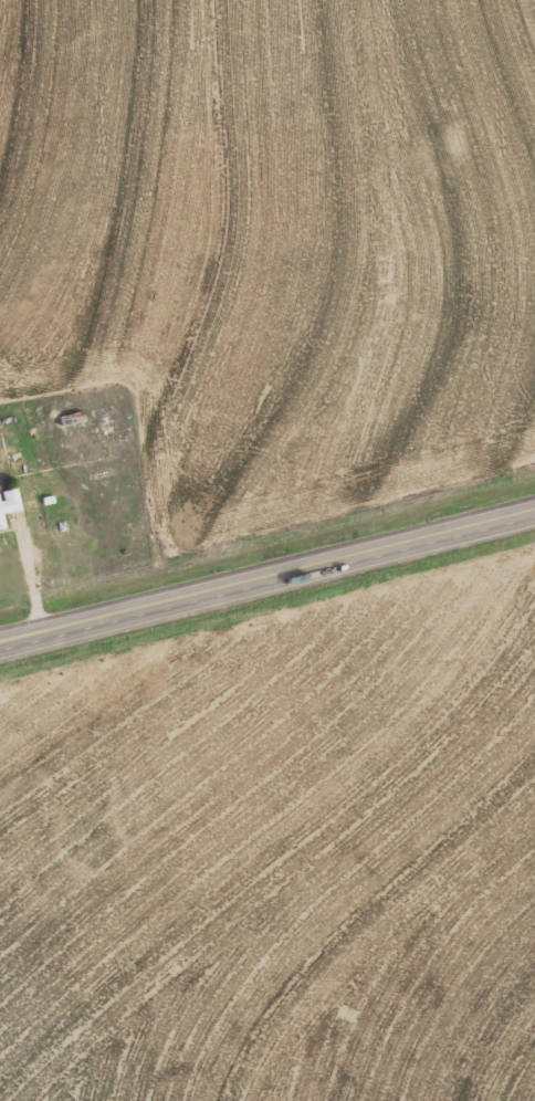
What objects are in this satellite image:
building: (8, 501)
road: (267, 573)

